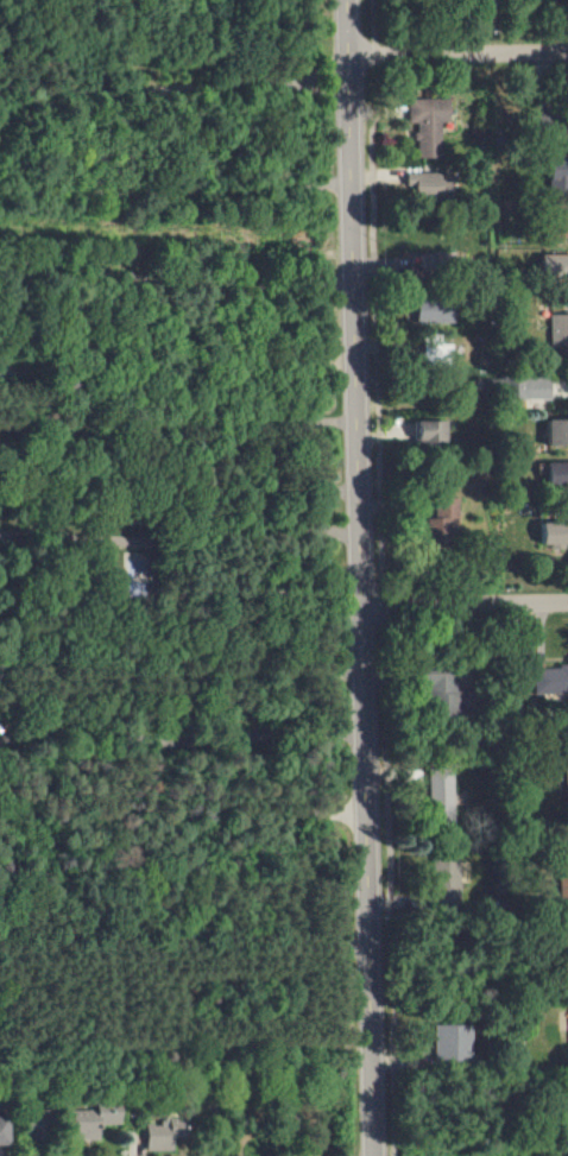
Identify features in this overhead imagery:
road: (459, 56)
road: (175, 72)
building: (428, 124)
building: (558, 173)
building: (430, 182)
road: (176, 191)
building: (563, 222)
building: (428, 264)
building: (555, 266)
road: (177, 280)
building: (436, 314)
building: (558, 329)
building: (532, 387)
building: (431, 430)
building: (558, 431)
building: (557, 473)
building: (444, 513)
building: (555, 531)
road: (181, 545)
building: (132, 562)
road: (362, 577)
road: (381, 577)
road: (181, 598)
road: (466, 604)
building: (550, 681)
building: (440, 694)
building: (566, 777)
building: (440, 794)
road: (183, 817)
building: (563, 873)
building: (446, 879)
building: (452, 1043)
building: (91, 1120)
building: (1, 1130)
building: (163, 1133)

